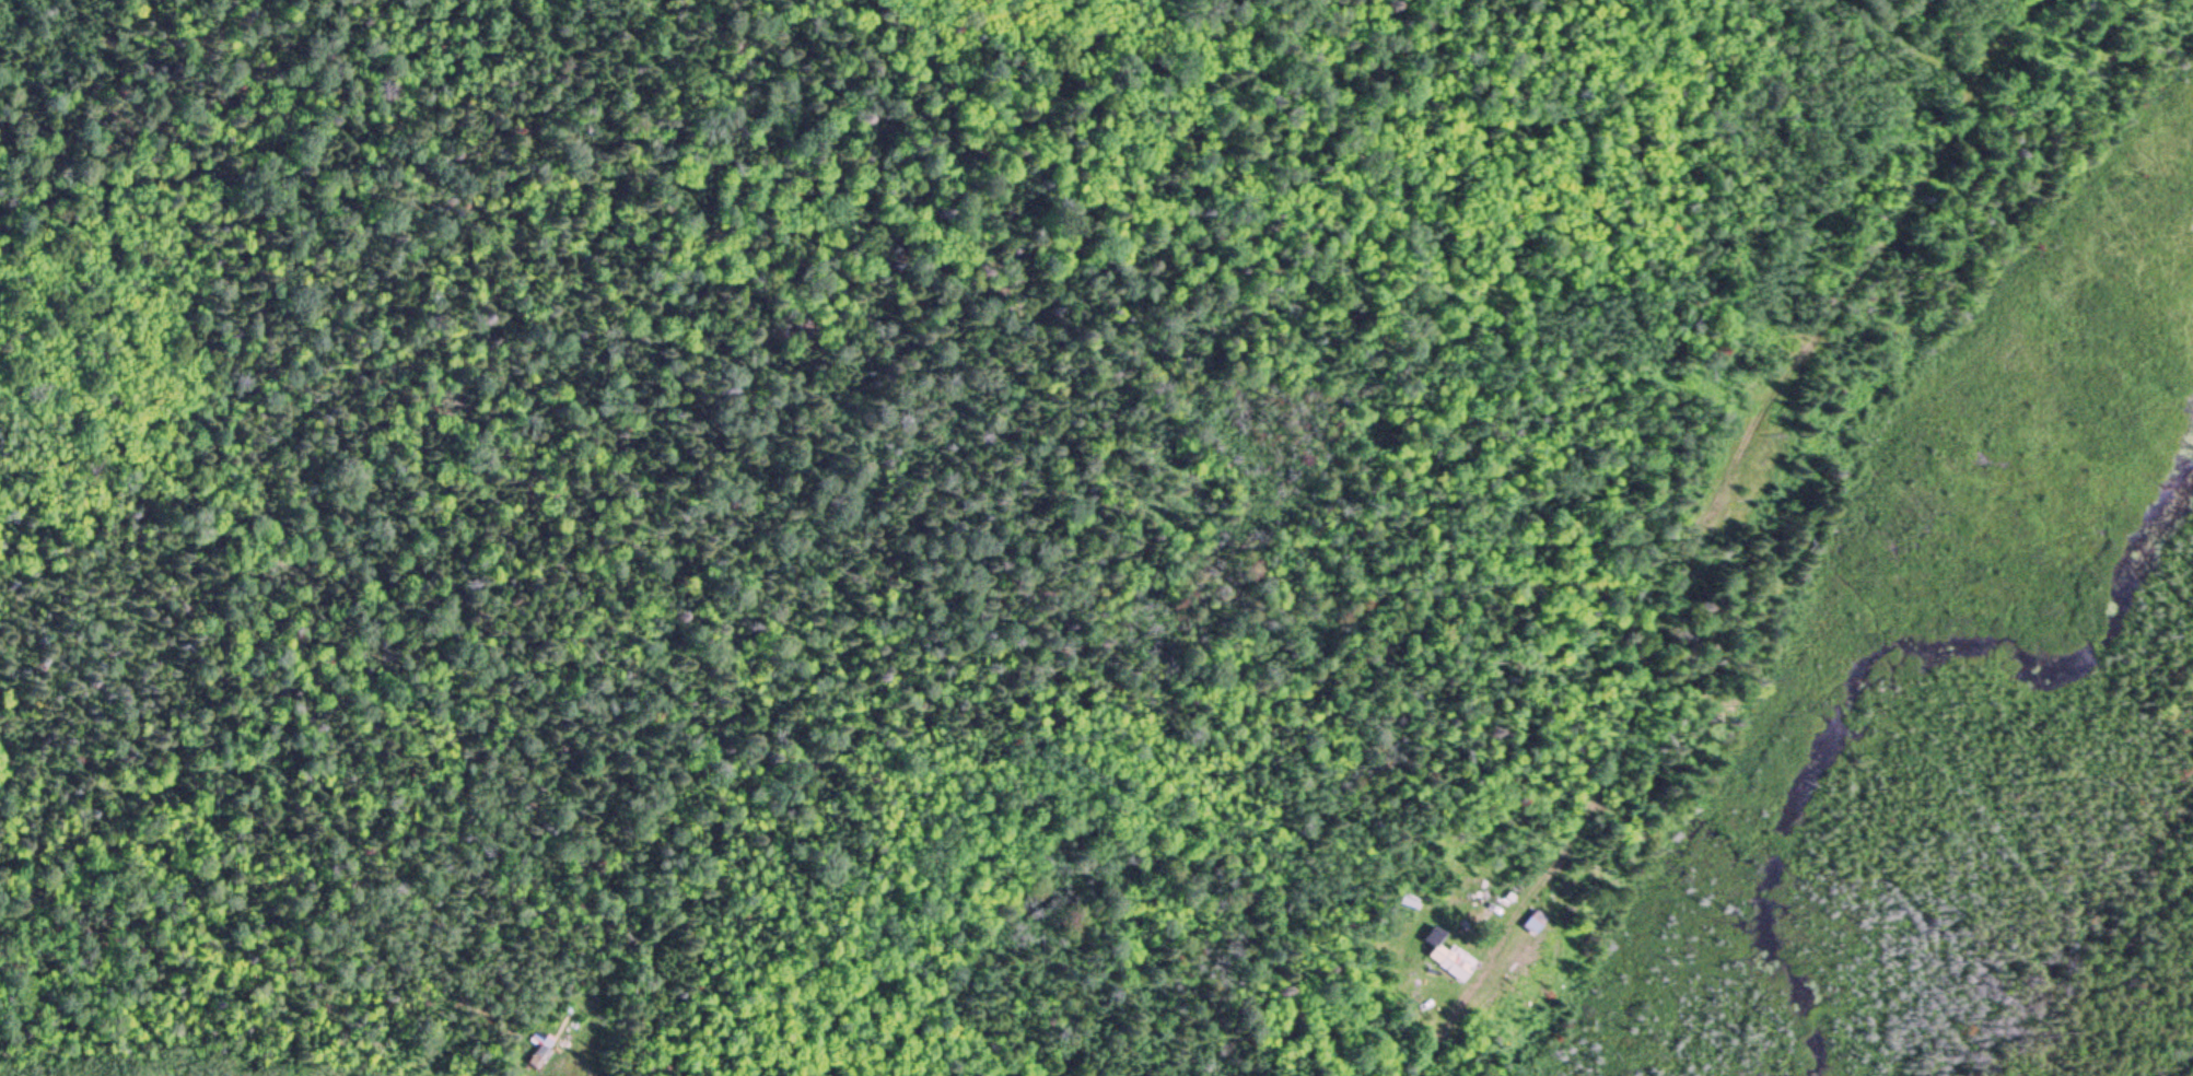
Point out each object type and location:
road: (1689, 530)
road: (650, 1073)

